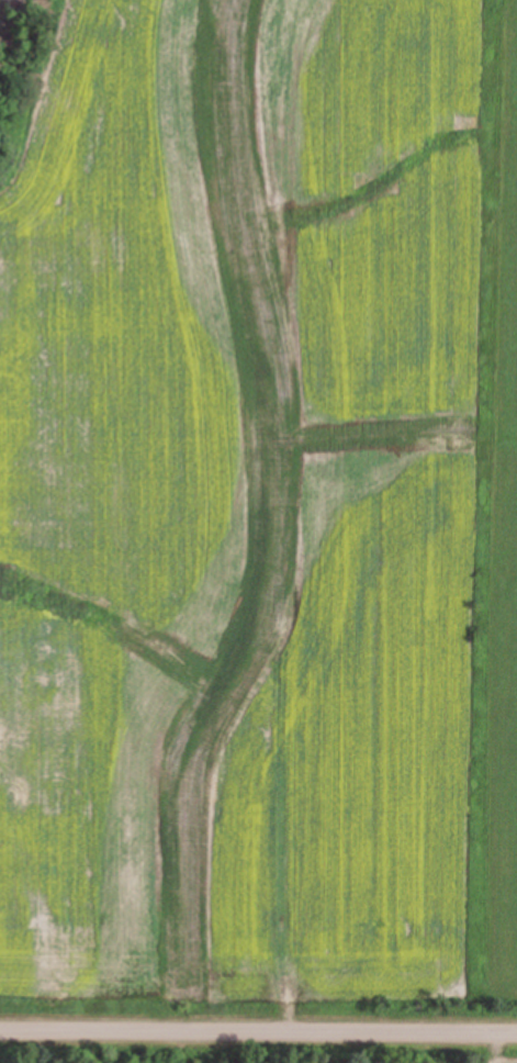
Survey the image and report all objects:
road: (258, 1029)

